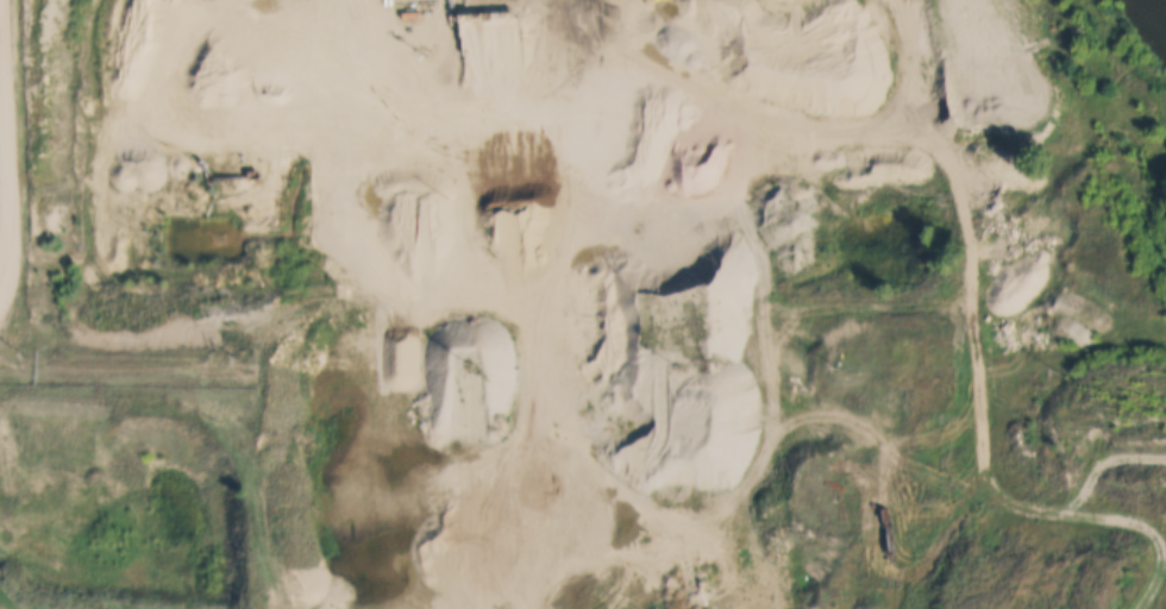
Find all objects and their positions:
river: (1152, 19)
quarry: (554, 119)
road: (2, 171)
road: (294, 377)
road: (571, 395)
building: (470, 417)
building: (145, 463)
building: (650, 470)
quarry: (121, 507)
building: (499, 515)
building: (302, 516)
building: (785, 535)
building: (440, 548)
road: (10, 566)

